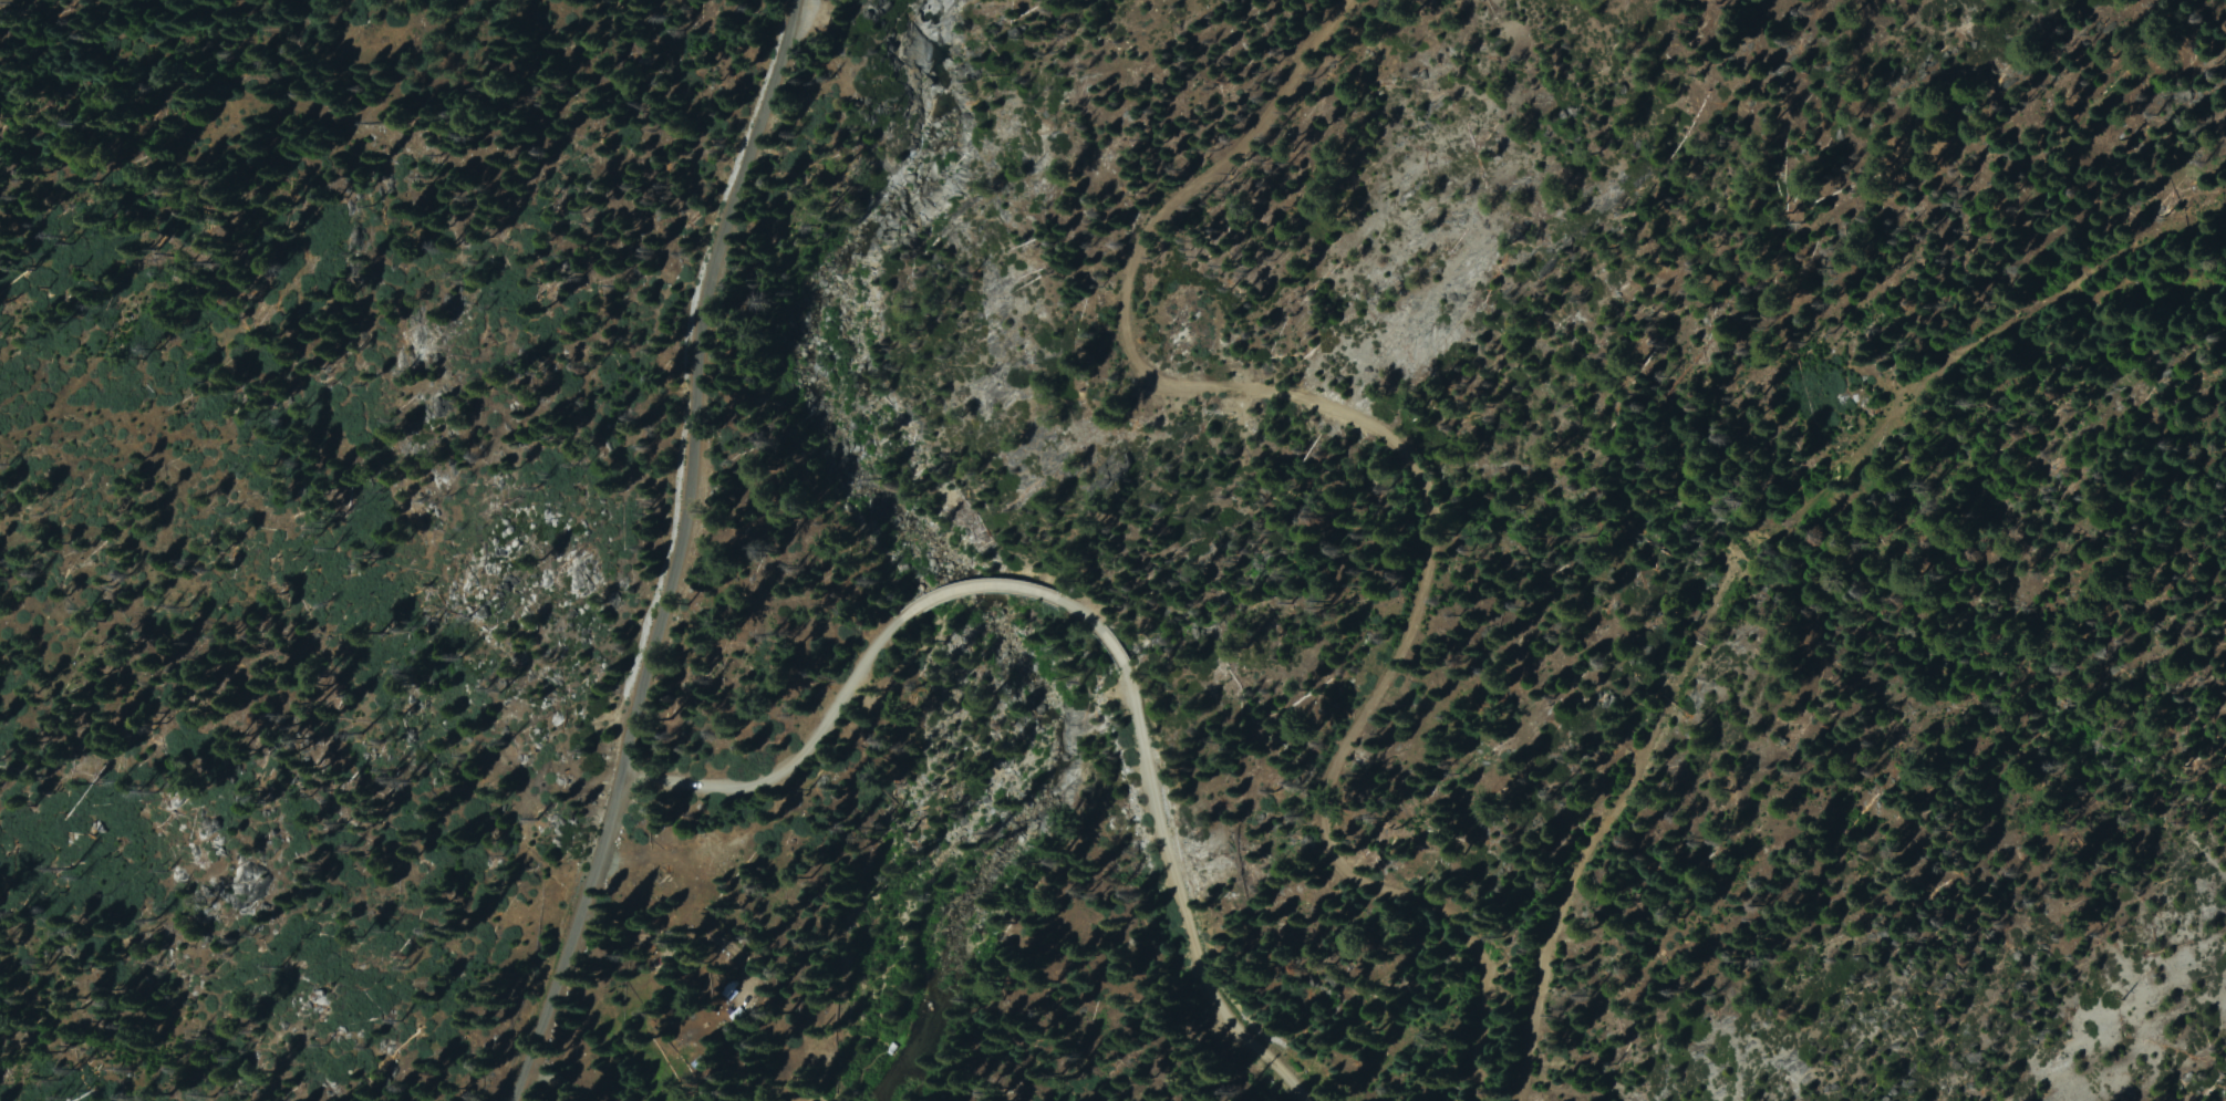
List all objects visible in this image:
road: (694, 383)
road: (1401, 419)
road: (1769, 584)
road: (807, 739)
road: (1152, 794)
road: (570, 938)

